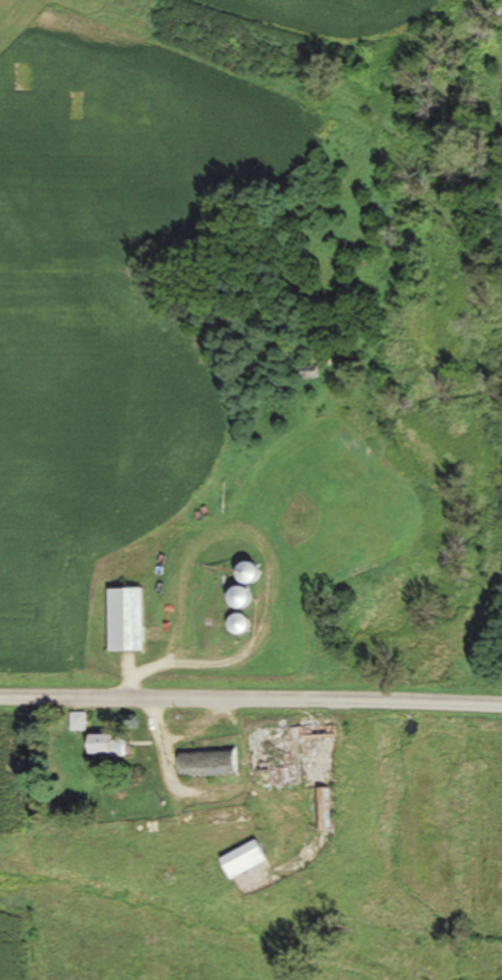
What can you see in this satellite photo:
building: (311, 368)
building: (247, 574)
building: (239, 599)
building: (125, 621)
building: (238, 625)
road: (250, 711)
building: (77, 723)
building: (106, 747)
building: (275, 757)
building: (207, 764)
building: (323, 811)
building: (242, 860)

